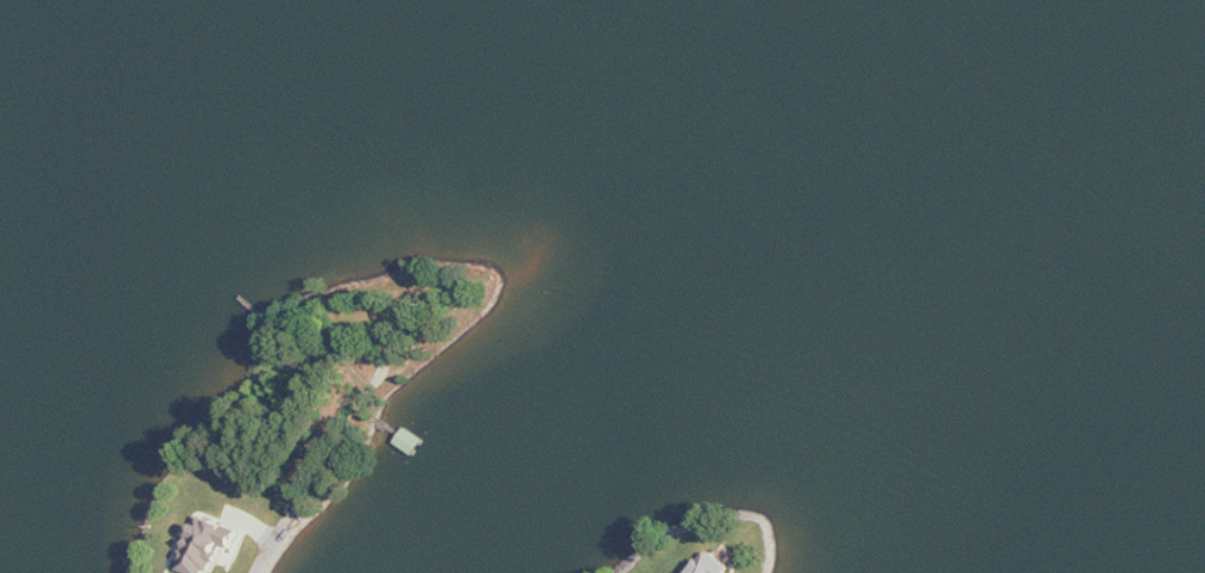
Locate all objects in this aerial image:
road: (329, 466)
building: (209, 544)
building: (711, 565)

